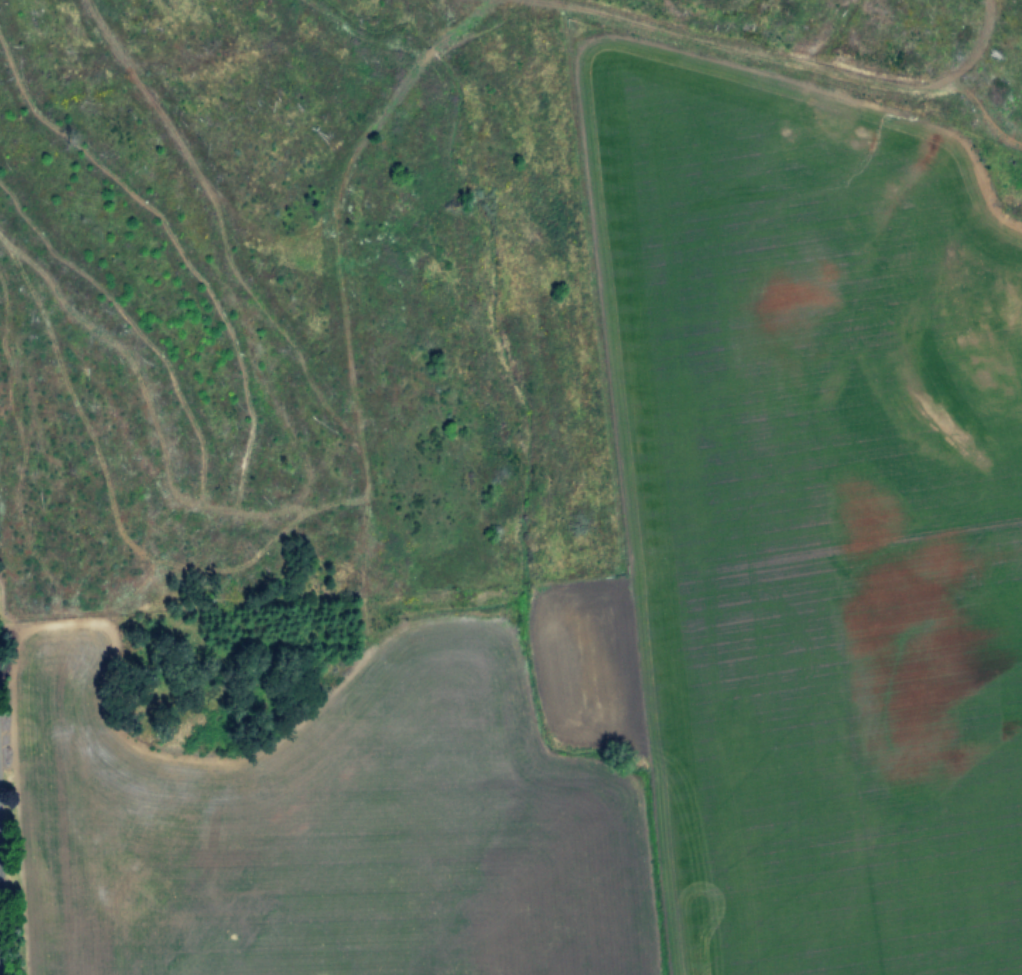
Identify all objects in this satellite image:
crop: (656, 628)
road: (0, 955)

